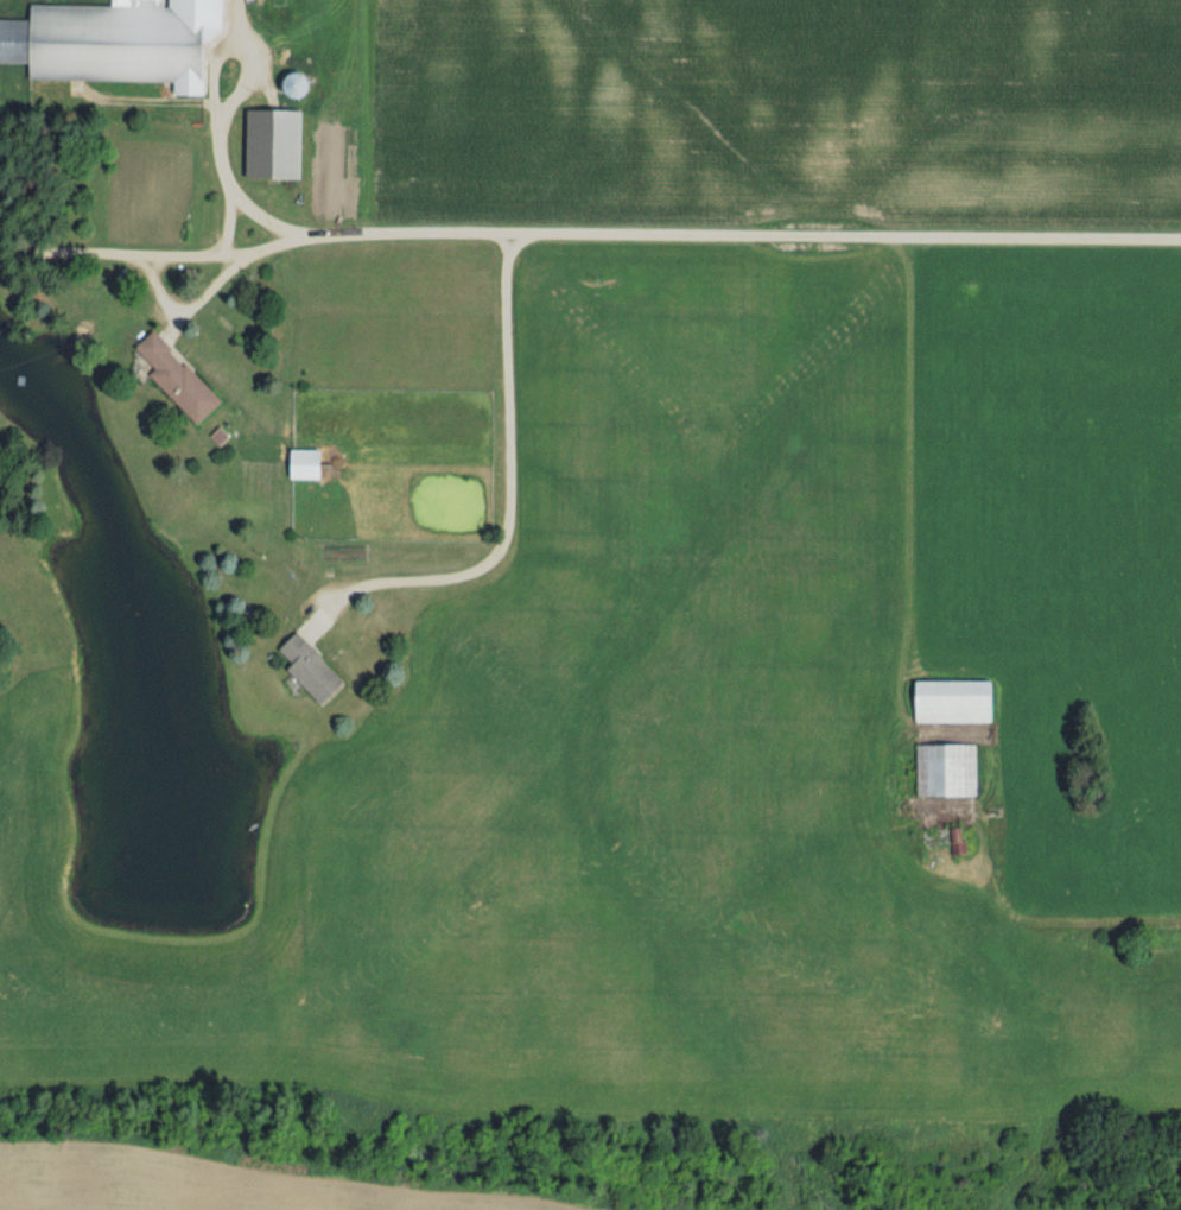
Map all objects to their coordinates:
building: (112, 42)
road: (209, 91)
building: (279, 144)
road: (229, 190)
road: (631, 233)
road: (69, 251)
road: (184, 256)
building: (183, 379)
building: (312, 463)
road: (506, 489)
building: (315, 667)
building: (961, 701)
building: (951, 769)
building: (964, 841)

